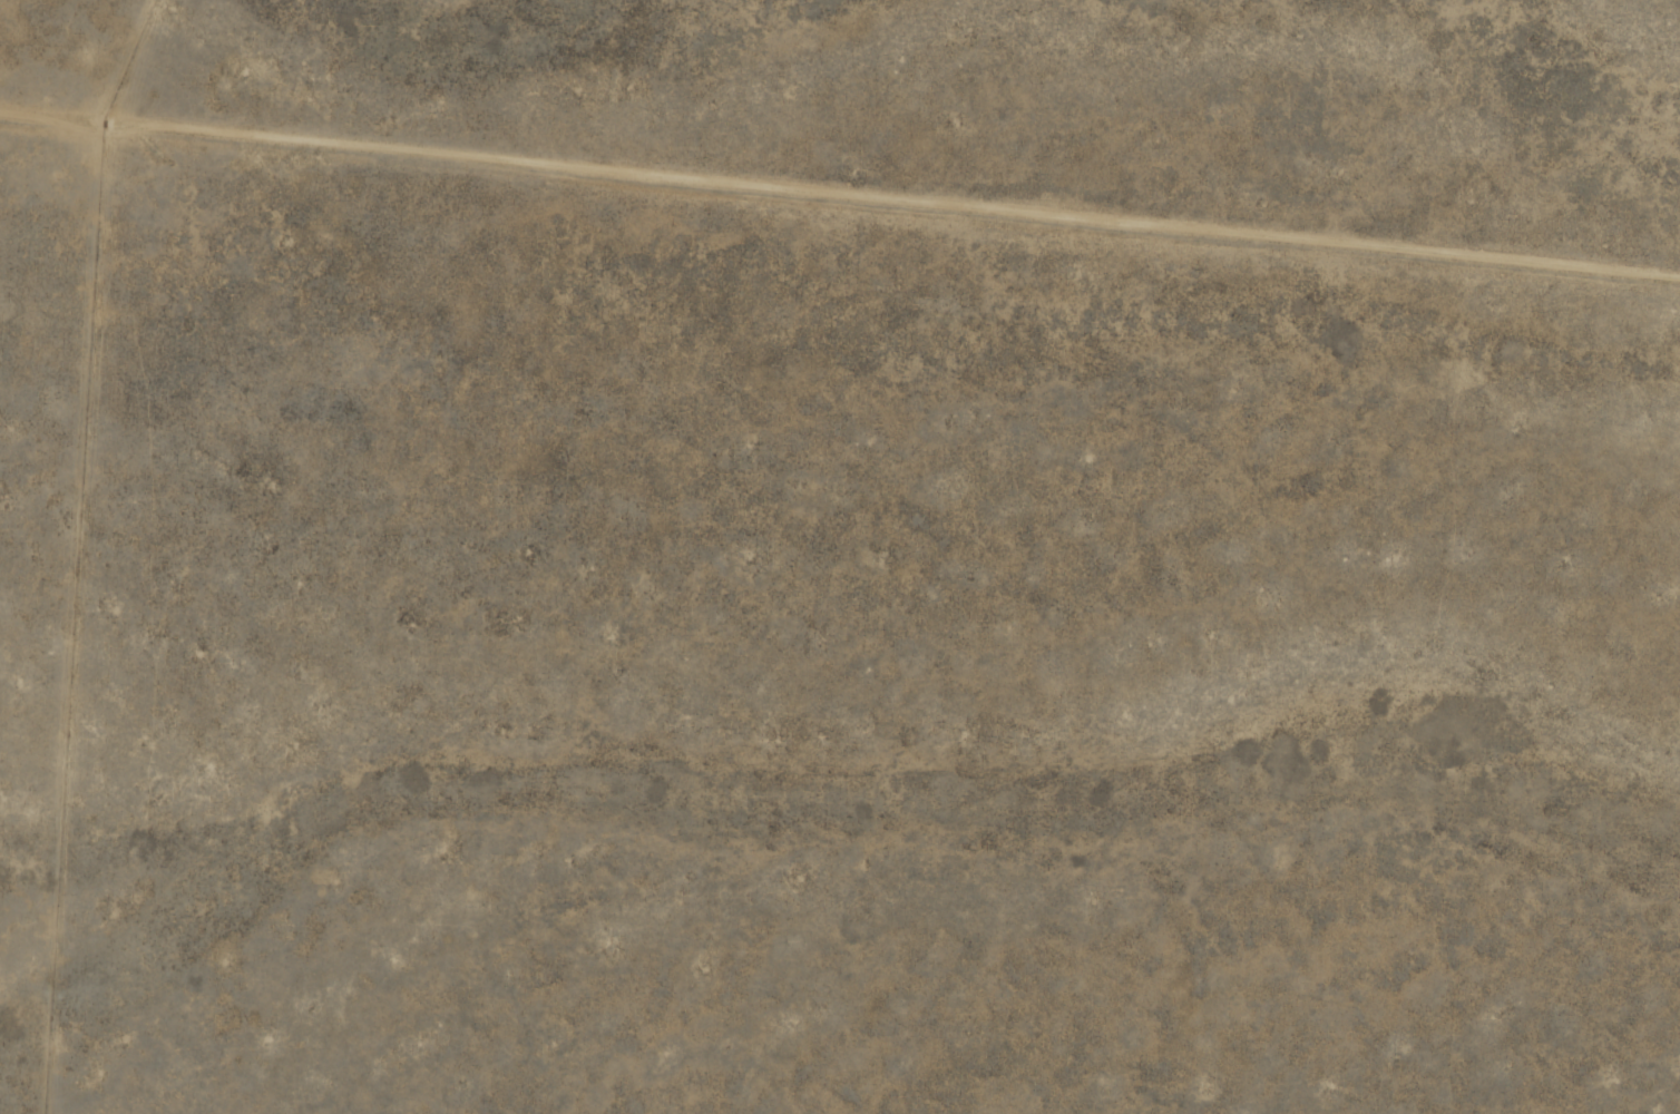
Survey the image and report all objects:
road: (838, 164)

